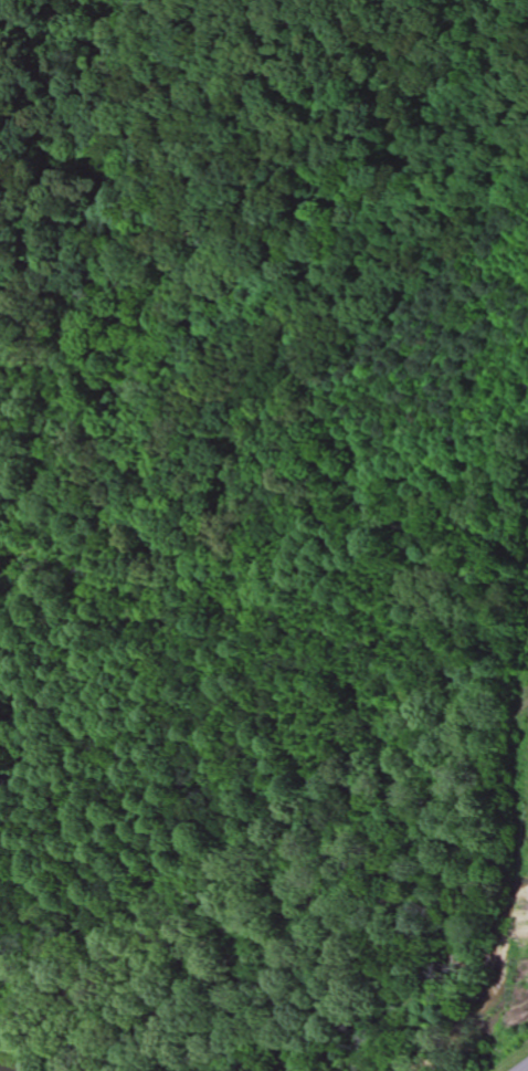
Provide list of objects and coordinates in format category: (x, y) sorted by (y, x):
park: (160, 264)
road: (526, 1069)

